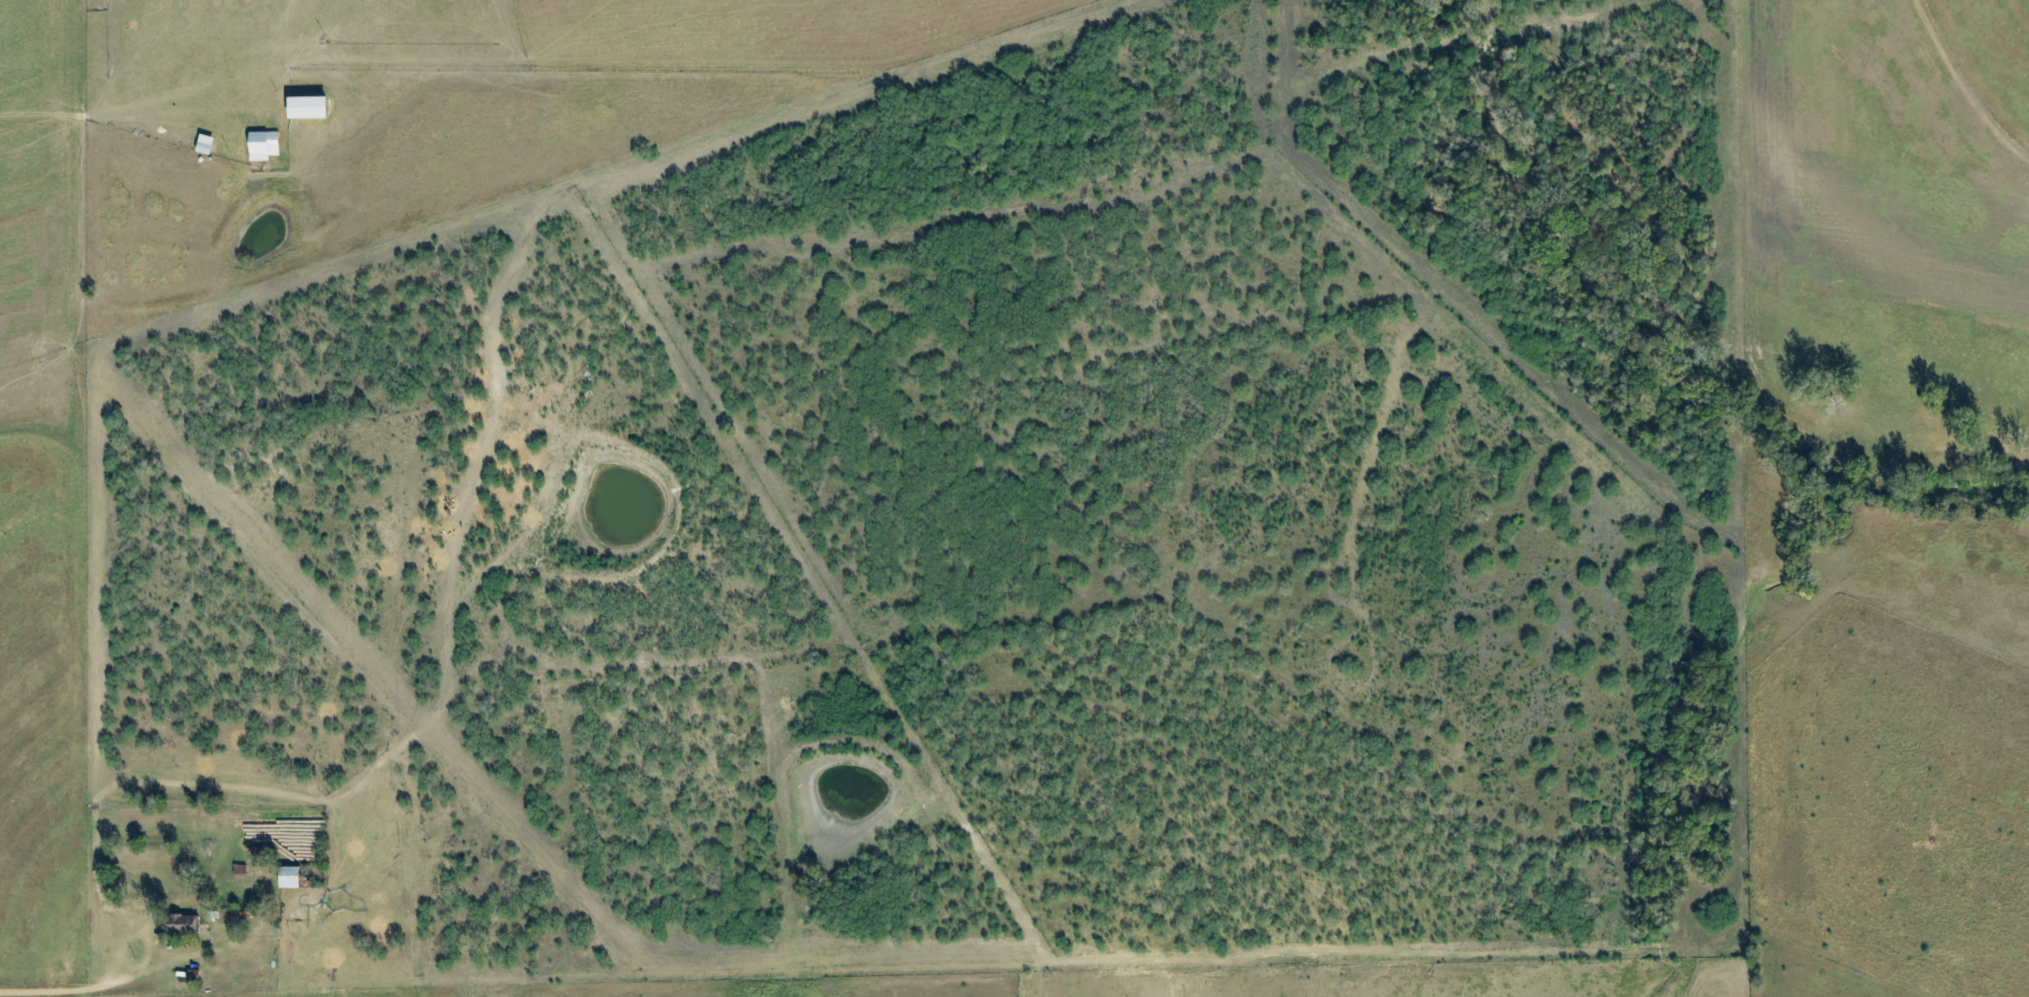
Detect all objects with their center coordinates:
building: (308, 106)
building: (263, 145)
building: (289, 877)
building: (183, 925)

